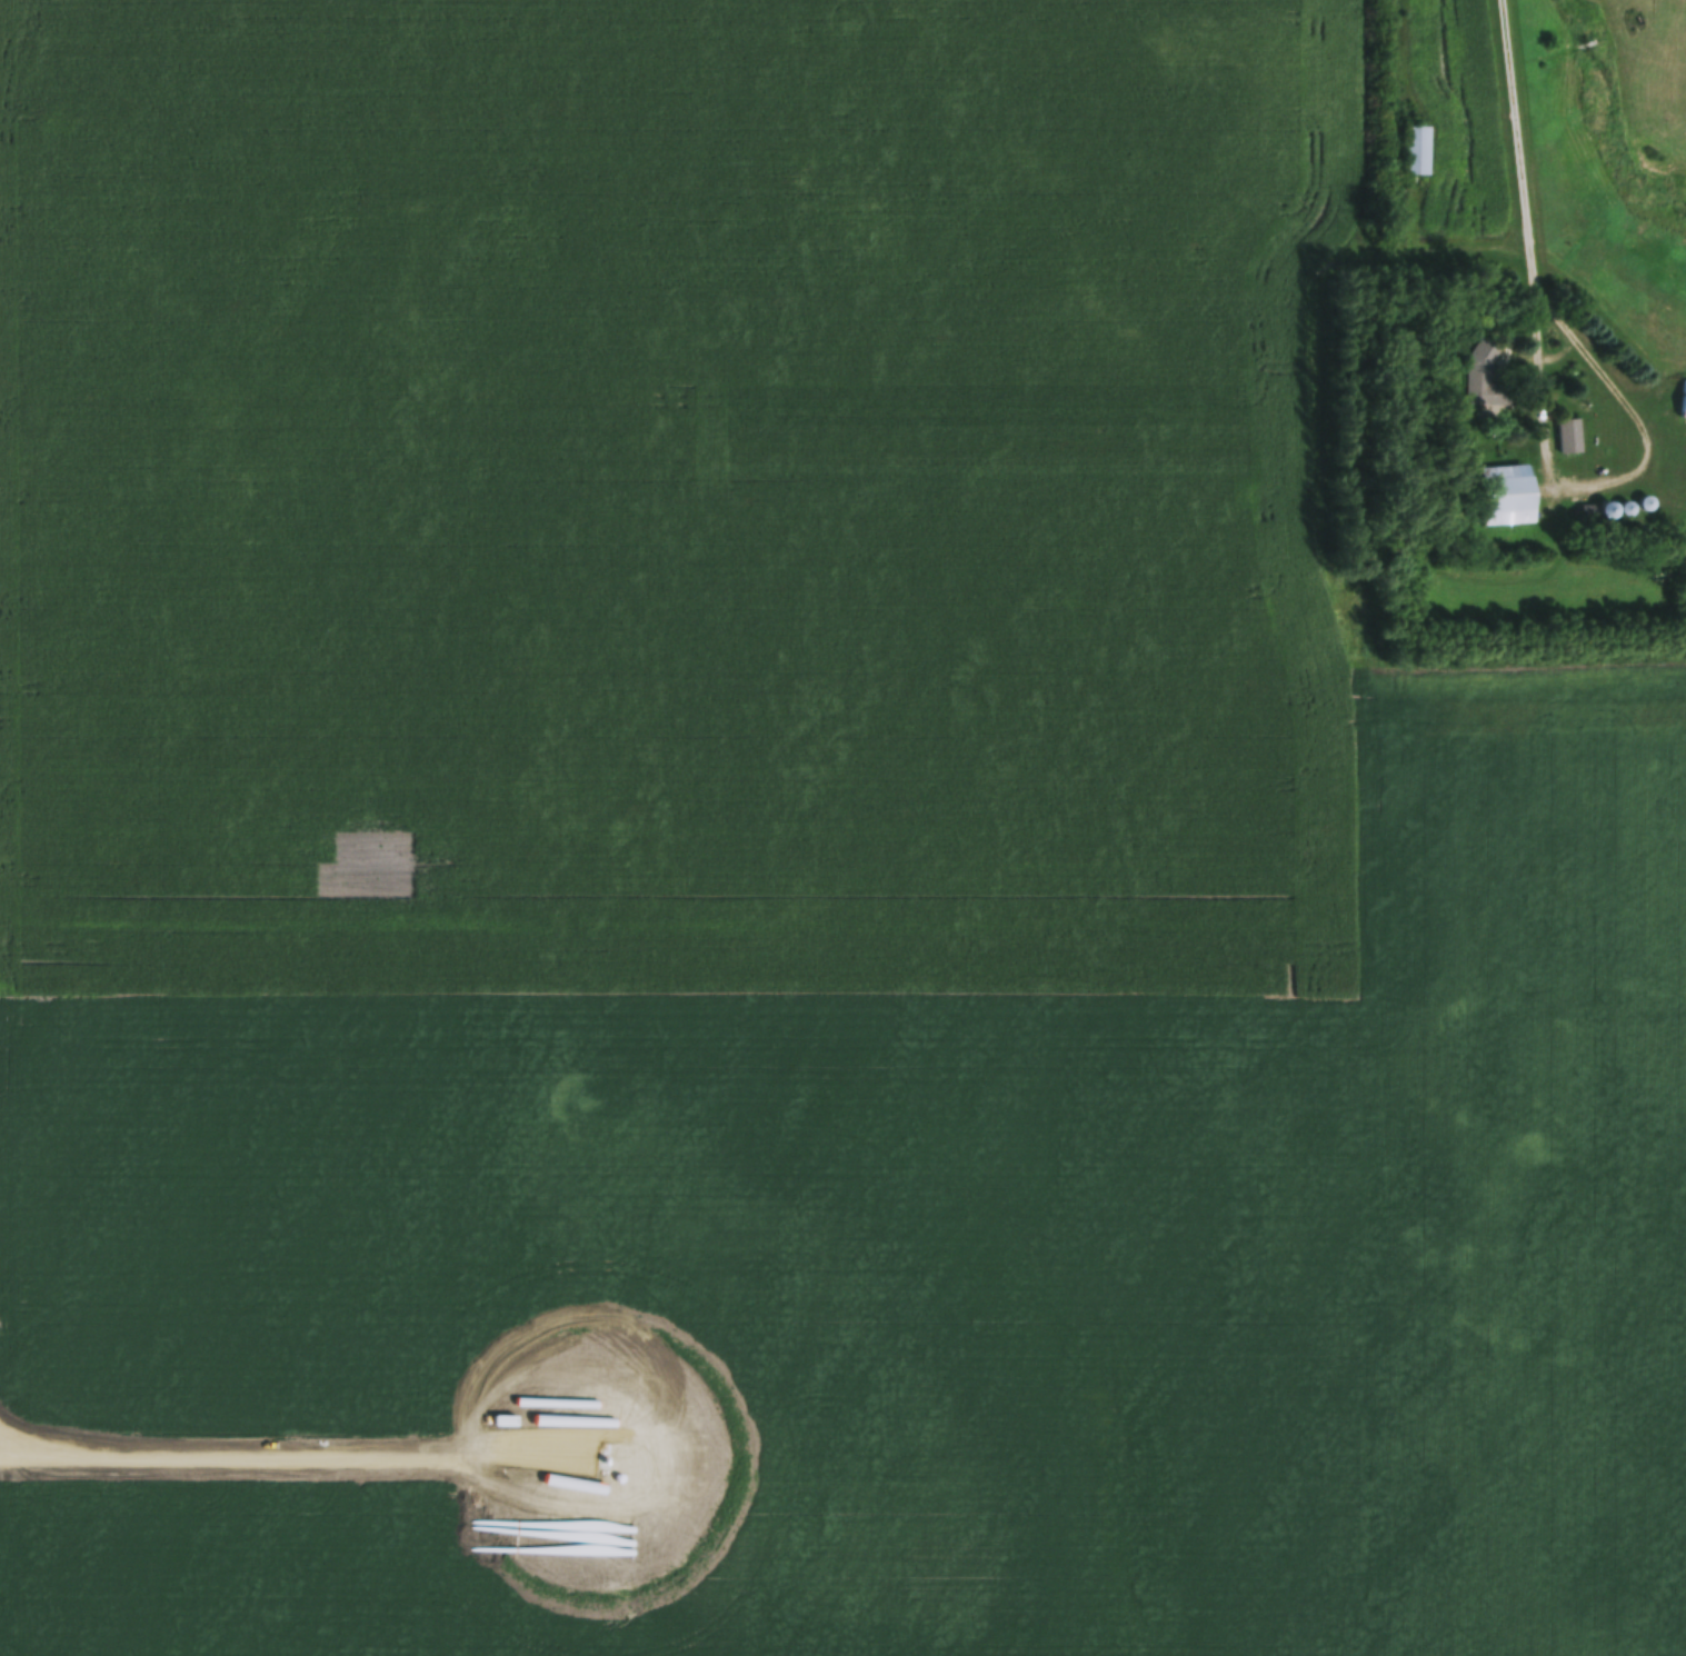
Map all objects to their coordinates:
road: (1518, 134)
building: (1417, 153)
road: (1544, 360)
building: (1486, 380)
building: (1684, 403)
building: (1569, 439)
building: (1508, 498)
building: (1683, 589)
wind turbine: (600, 1455)

